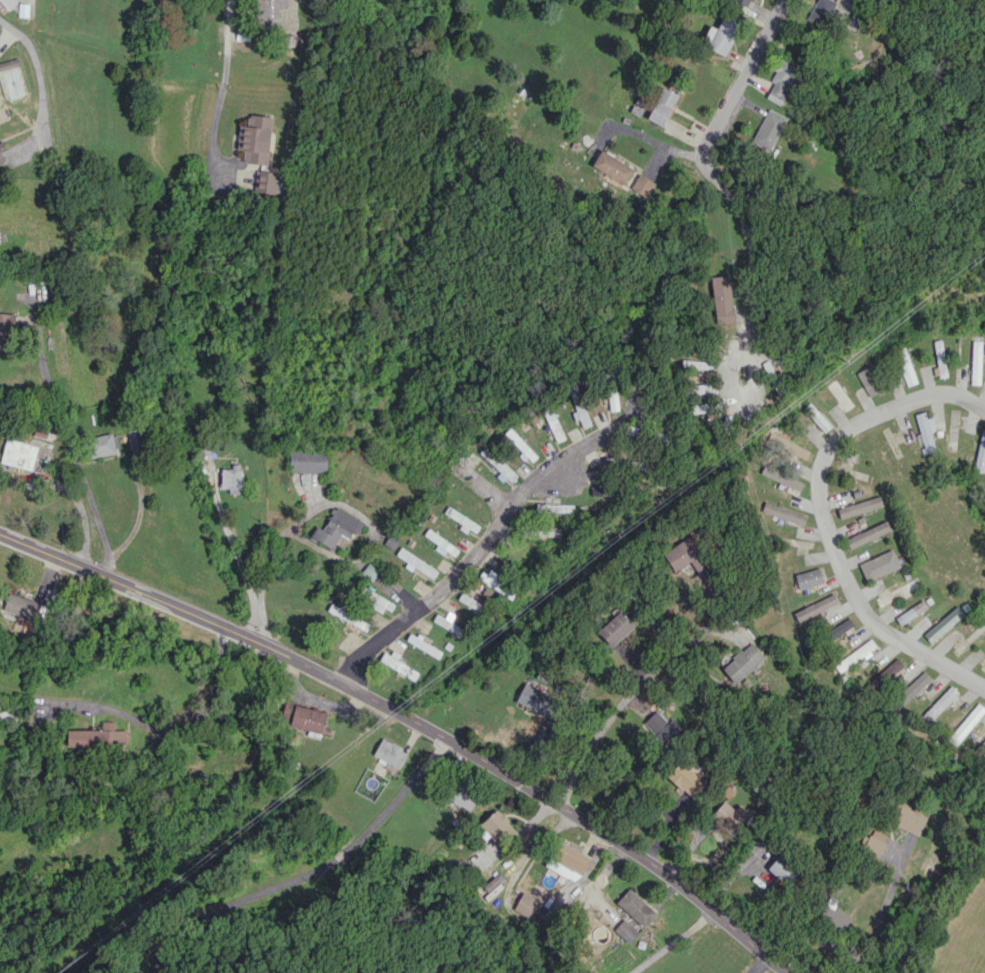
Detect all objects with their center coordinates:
building: (169, 0)
building: (747, 1)
building: (7, 3)
building: (821, 11)
building: (270, 12)
building: (856, 19)
building: (721, 35)
road: (223, 38)
building: (9, 63)
road: (748, 75)
building: (781, 79)
road: (40, 83)
building: (662, 106)
road: (209, 129)
building: (768, 129)
road: (650, 137)
building: (255, 139)
building: (1, 155)
building: (612, 167)
building: (269, 182)
building: (643, 185)
road: (750, 245)
building: (722, 299)
building: (5, 332)
building: (939, 358)
building: (975, 362)
building: (696, 364)
building: (905, 366)
building: (870, 380)
building: (703, 388)
building: (839, 395)
building: (578, 405)
building: (816, 417)
building: (553, 424)
building: (925, 431)
road: (70, 442)
building: (520, 444)
building: (101, 445)
building: (790, 447)
building: (18, 454)
building: (980, 454)
building: (307, 461)
building: (496, 463)
building: (231, 478)
building: (859, 506)
building: (554, 508)
building: (783, 513)
road: (825, 516)
building: (461, 520)
building: (337, 529)
building: (538, 530)
building: (867, 534)
building: (441, 543)
road: (476, 555)
building: (687, 556)
road: (234, 560)
building: (416, 562)
building: (879, 565)
road: (263, 566)
building: (808, 578)
building: (496, 585)
building: (896, 592)
building: (379, 602)
building: (473, 603)
building: (22, 607)
building: (815, 607)
building: (911, 612)
building: (943, 623)
building: (448, 625)
building: (615, 628)
building: (423, 645)
building: (854, 656)
building: (742, 662)
building: (398, 666)
building: (908, 692)
building: (538, 700)
road: (621, 702)
building: (938, 705)
building: (303, 716)
road: (190, 719)
road: (412, 720)
building: (966, 725)
building: (662, 728)
building: (97, 735)
building: (982, 746)
building: (390, 753)
building: (686, 779)
building: (462, 795)
building: (731, 815)
building: (909, 818)
building: (498, 827)
building: (874, 842)
building: (786, 871)
road: (308, 874)
building: (630, 902)
building: (527, 904)
road: (884, 907)
road: (673, 942)

